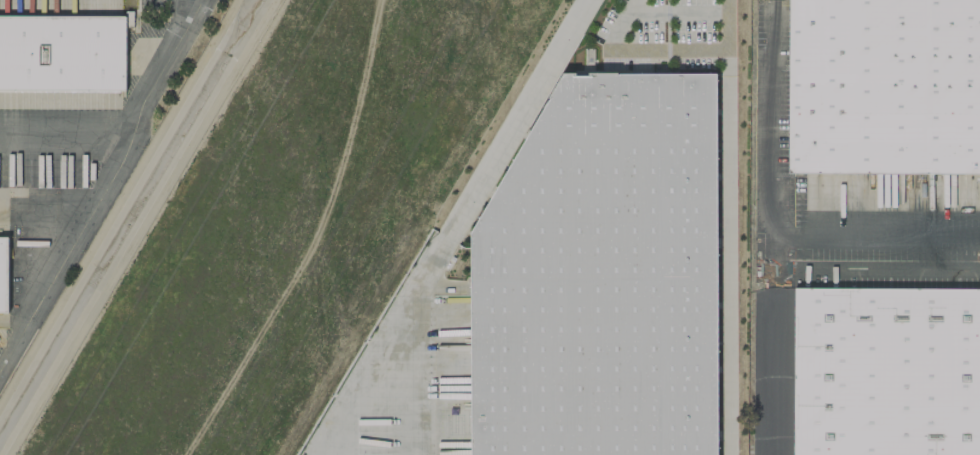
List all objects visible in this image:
road: (728, 36)
building: (62, 51)
road: (641, 51)
building: (884, 86)
road: (512, 118)
road: (104, 189)
road: (772, 222)
road: (728, 264)
building: (4, 275)
building: (601, 276)
road: (774, 345)
road: (384, 349)
building: (886, 371)
road: (396, 407)

